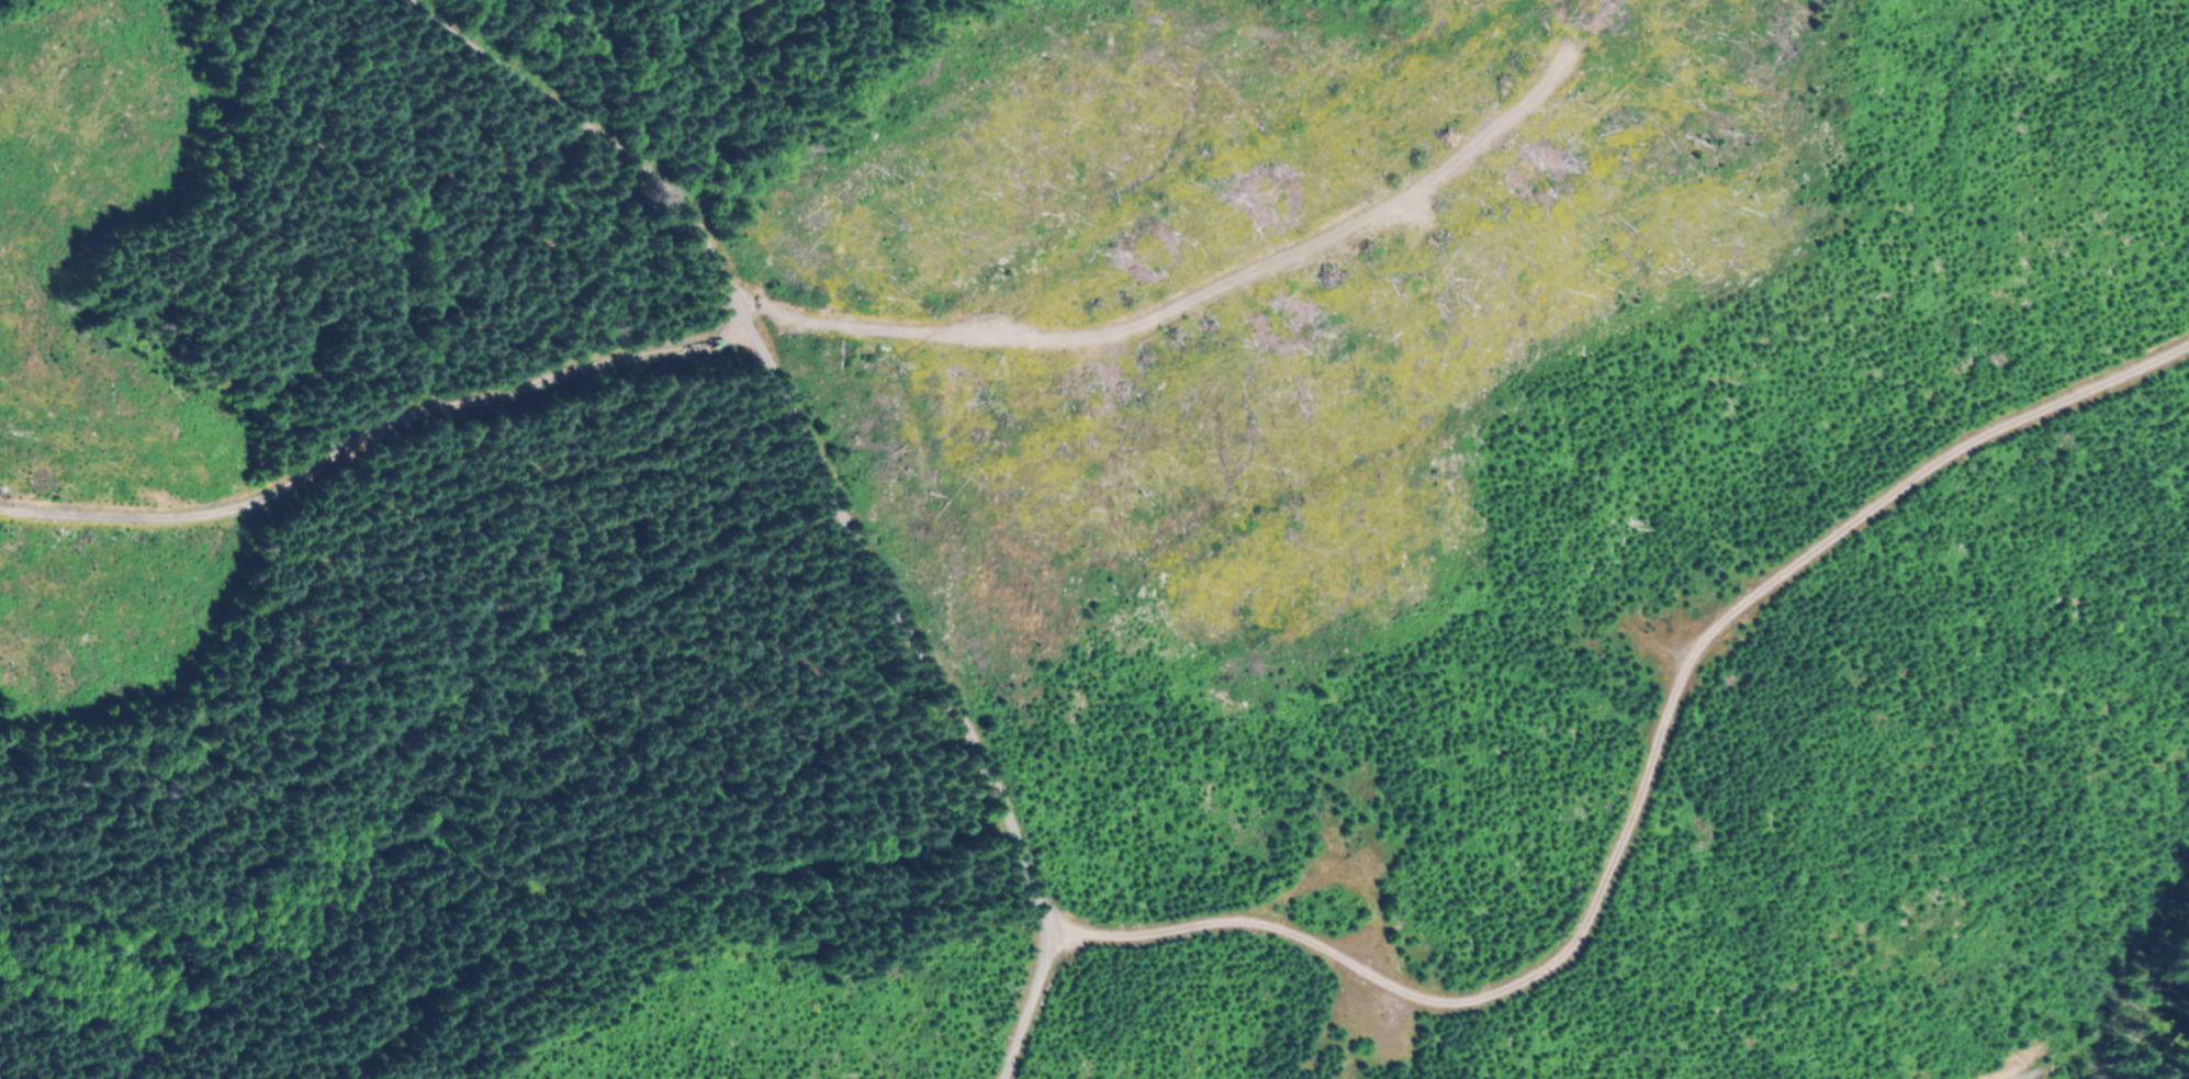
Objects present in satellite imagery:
road: (374, 434)
road: (829, 479)
road: (1638, 789)

